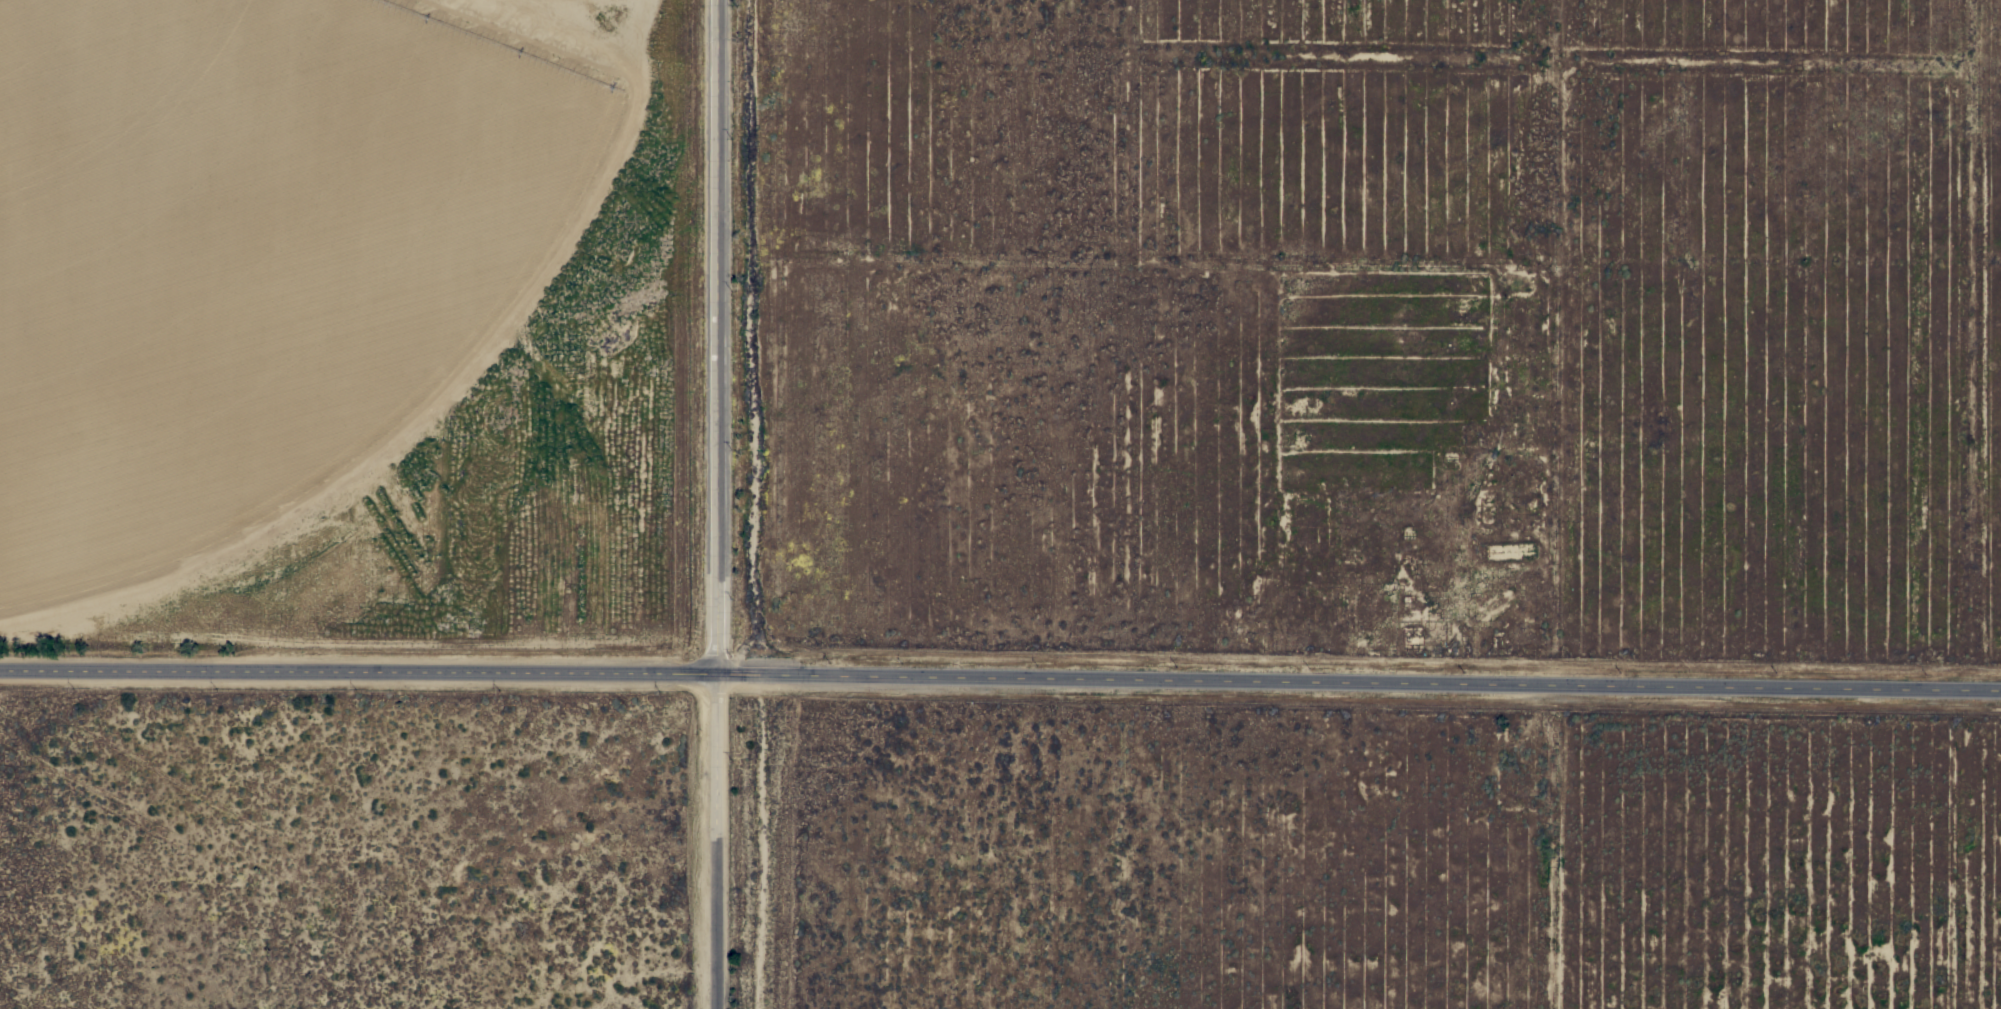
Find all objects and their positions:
road: (715, 335)
crop: (347, 341)
road: (1000, 673)
road: (712, 840)
road: (768, 840)

